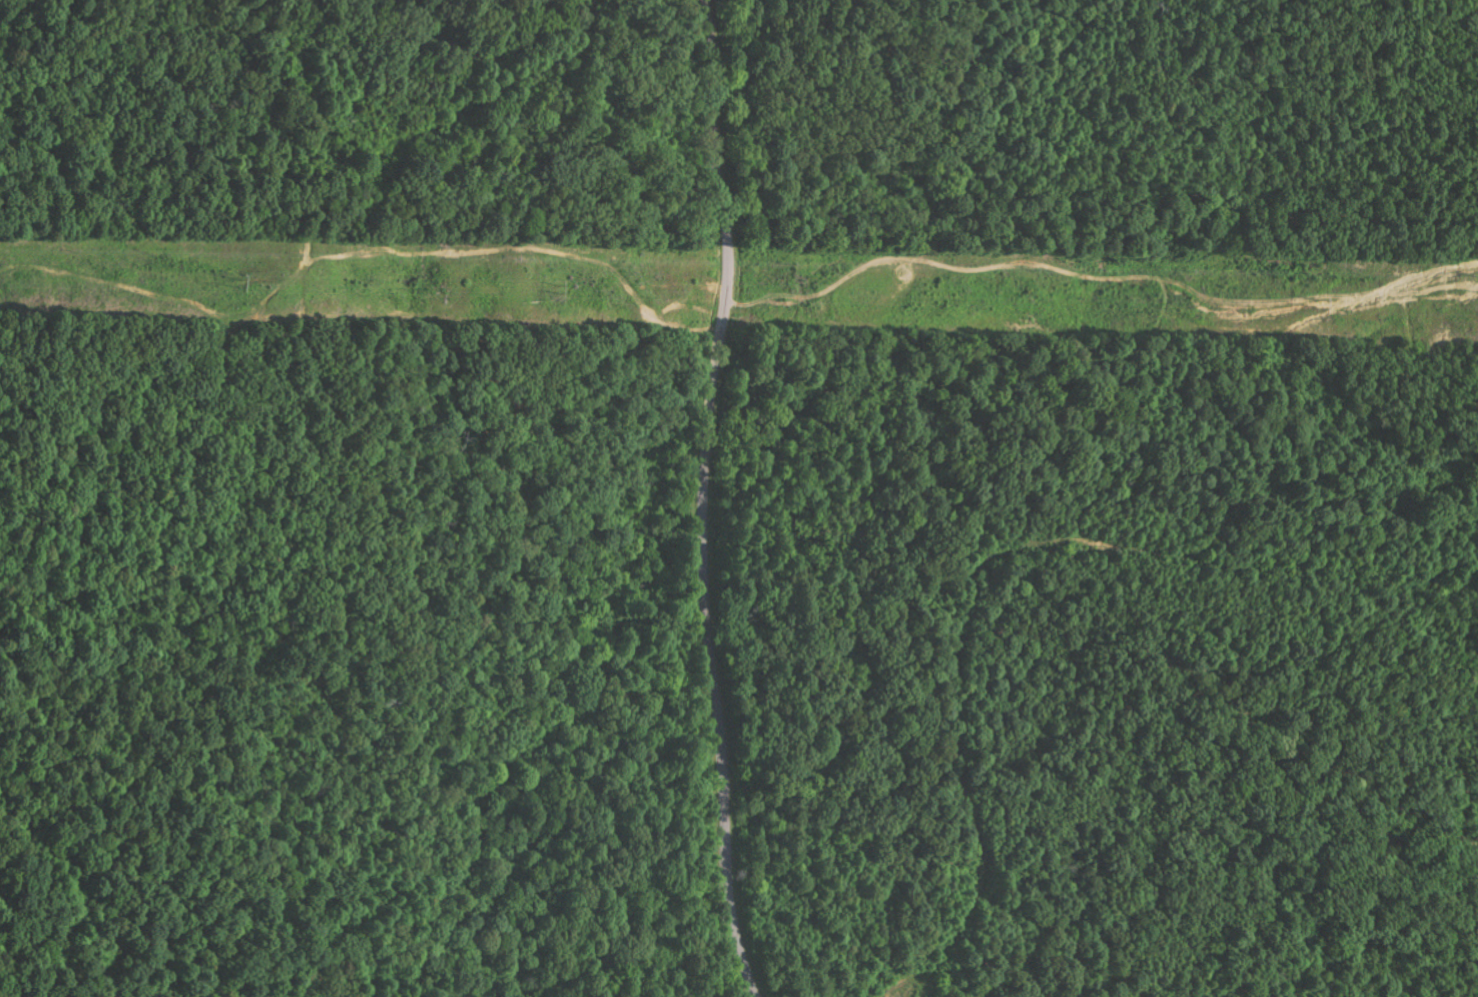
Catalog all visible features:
road: (331, 486)
road: (706, 499)
road: (554, 757)

